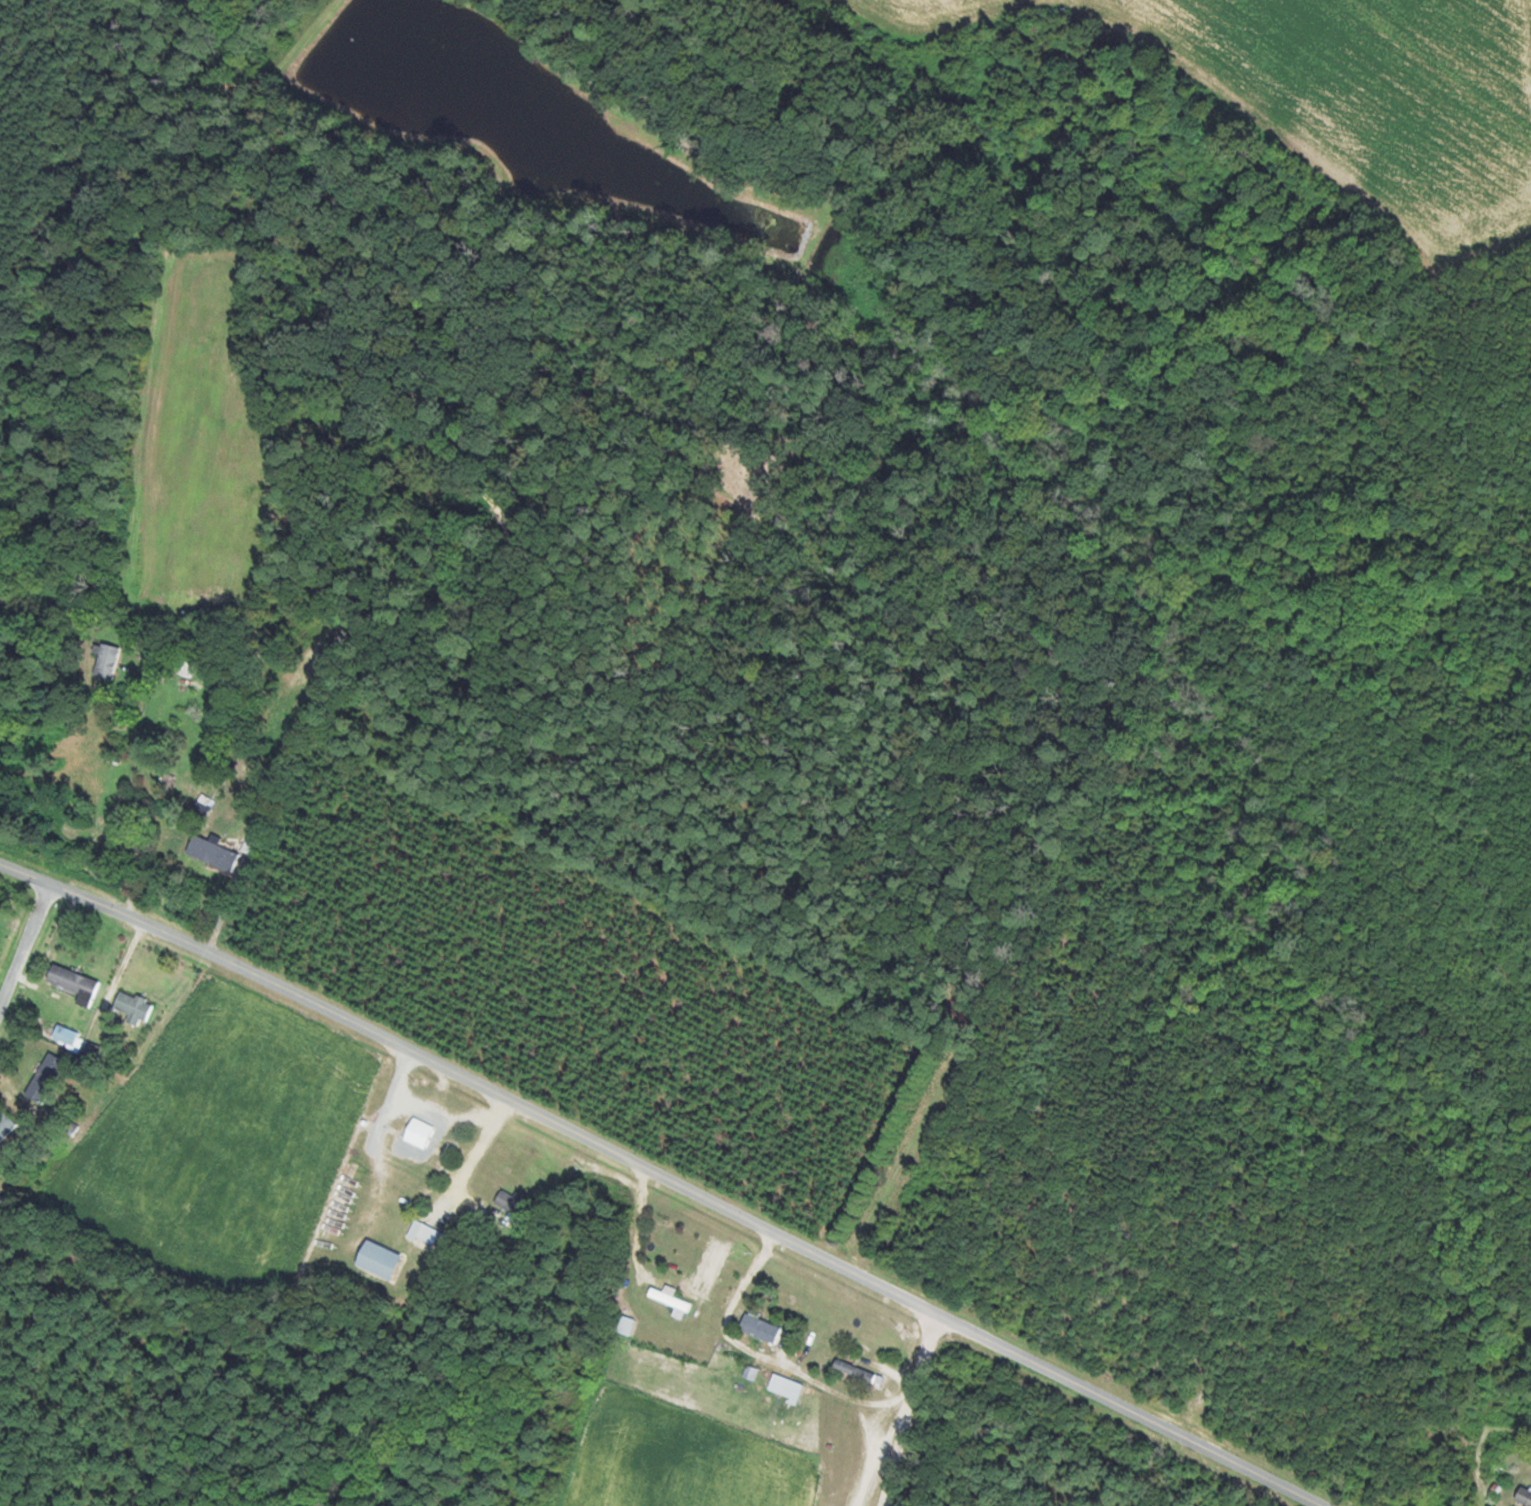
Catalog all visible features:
road: (1527, 2)
building: (107, 662)
building: (188, 669)
road: (27, 945)
building: (74, 982)
building: (135, 1009)
building: (47, 1078)
building: (6, 1126)
building: (409, 1149)
road: (668, 1174)
building: (511, 1204)
building: (426, 1234)
building: (672, 1301)
building: (624, 1325)
building: (761, 1329)
building: (856, 1371)
building: (882, 1381)
building: (786, 1388)
building: (1524, 1496)

